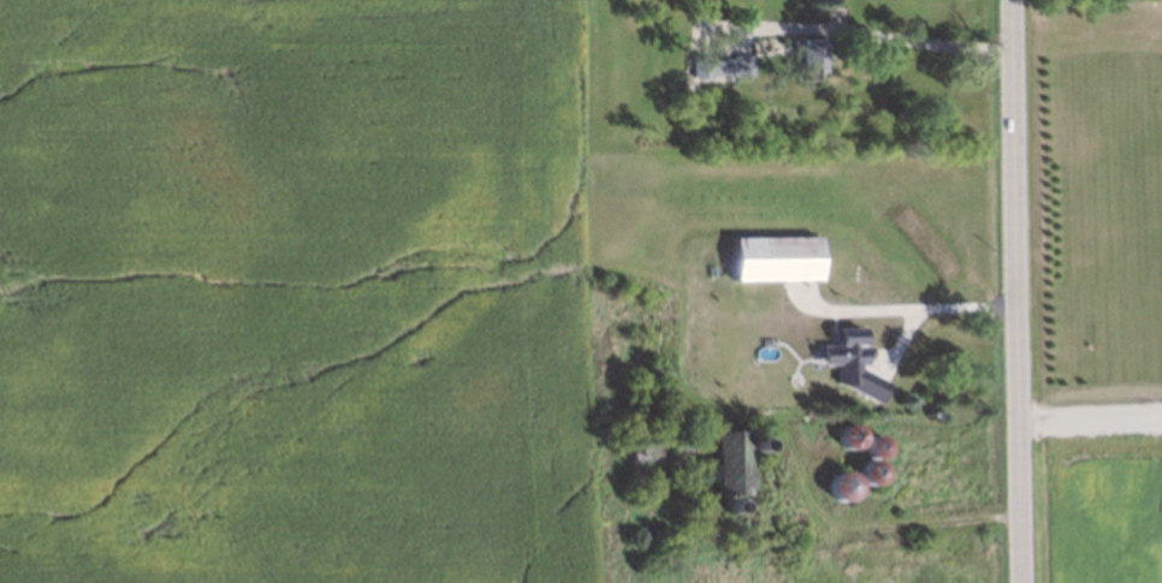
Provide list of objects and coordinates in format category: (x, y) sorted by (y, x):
road: (878, 36)
building: (806, 54)
building: (718, 65)
building: (769, 255)
road: (1014, 291)
building: (640, 313)
building: (842, 346)
building: (742, 370)
road: (790, 409)
building: (822, 409)
building: (804, 416)
road: (1090, 418)
building: (844, 444)
building: (747, 451)
building: (871, 453)
building: (695, 457)
building: (864, 482)
building: (836, 495)
building: (719, 513)

